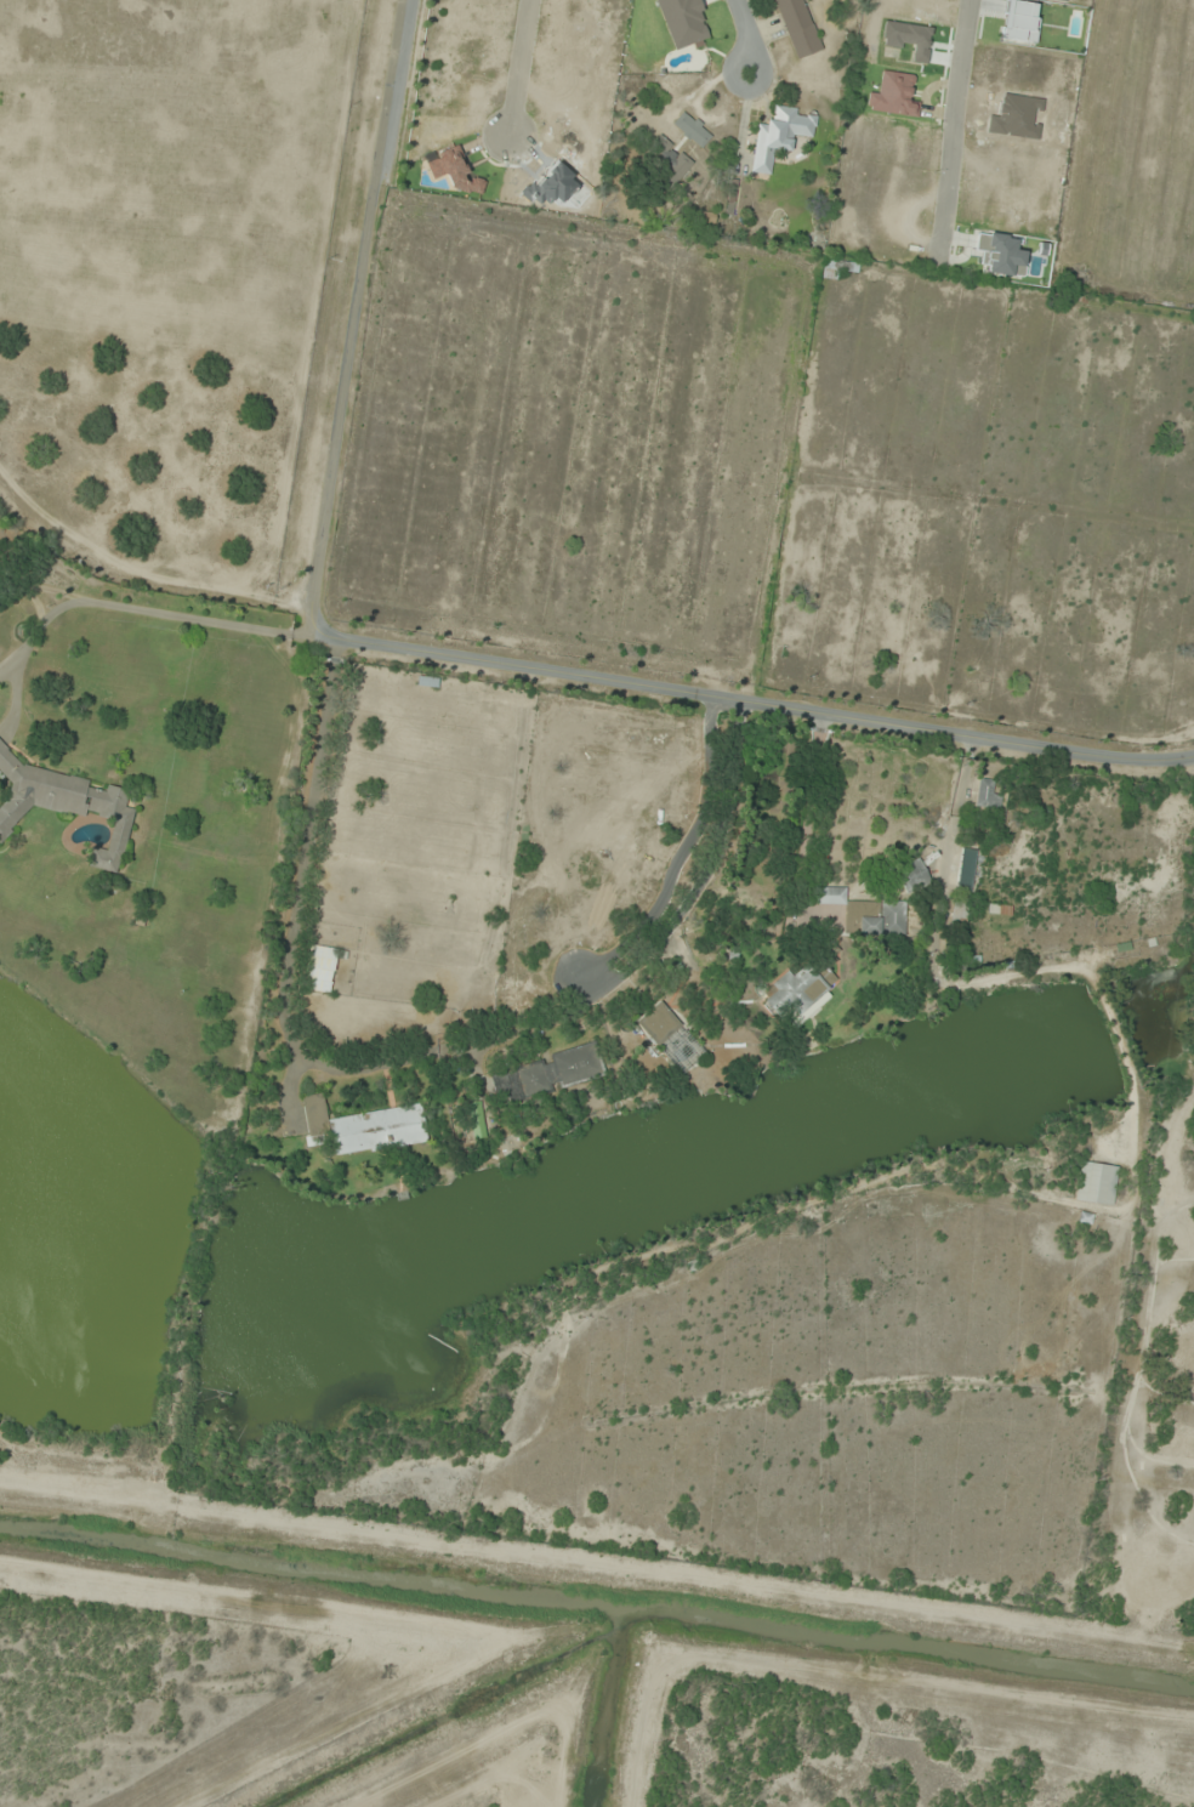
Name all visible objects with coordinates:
building: (797, 27)
road: (745, 35)
road: (514, 68)
building: (689, 129)
road: (951, 129)
building: (778, 136)
building: (661, 150)
building: (836, 268)
road: (322, 562)
road: (752, 704)
building: (985, 796)
building: (64, 803)
road: (955, 818)
building: (910, 876)
building: (962, 891)
building: (829, 896)
building: (885, 920)
building: (319, 968)
building: (513, 990)
building: (796, 990)
building: (669, 1038)
building: (546, 1073)
building: (375, 1130)
building: (1093, 1183)
park: (1149, 1433)

